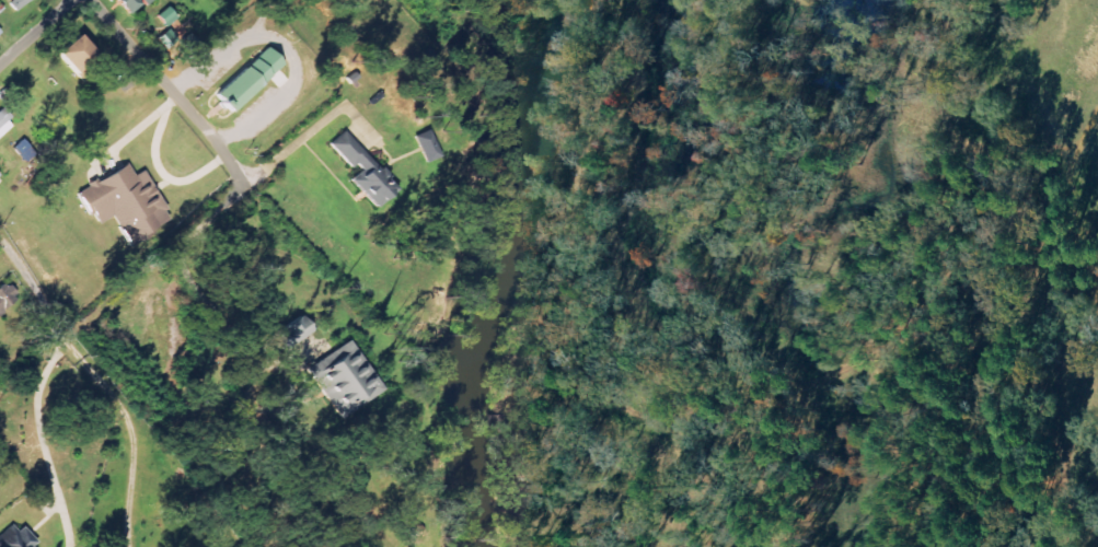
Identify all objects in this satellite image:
building: (20, 2)
building: (132, 3)
building: (167, 16)
building: (0, 31)
road: (37, 32)
road: (287, 53)
building: (78, 54)
building: (250, 80)
road: (171, 89)
building: (4, 123)
road: (307, 138)
building: (365, 171)
building: (126, 202)
river: (493, 269)
building: (7, 298)
road: (58, 327)
building: (292, 334)
building: (344, 379)
road: (42, 441)
road: (134, 478)
building: (16, 538)

